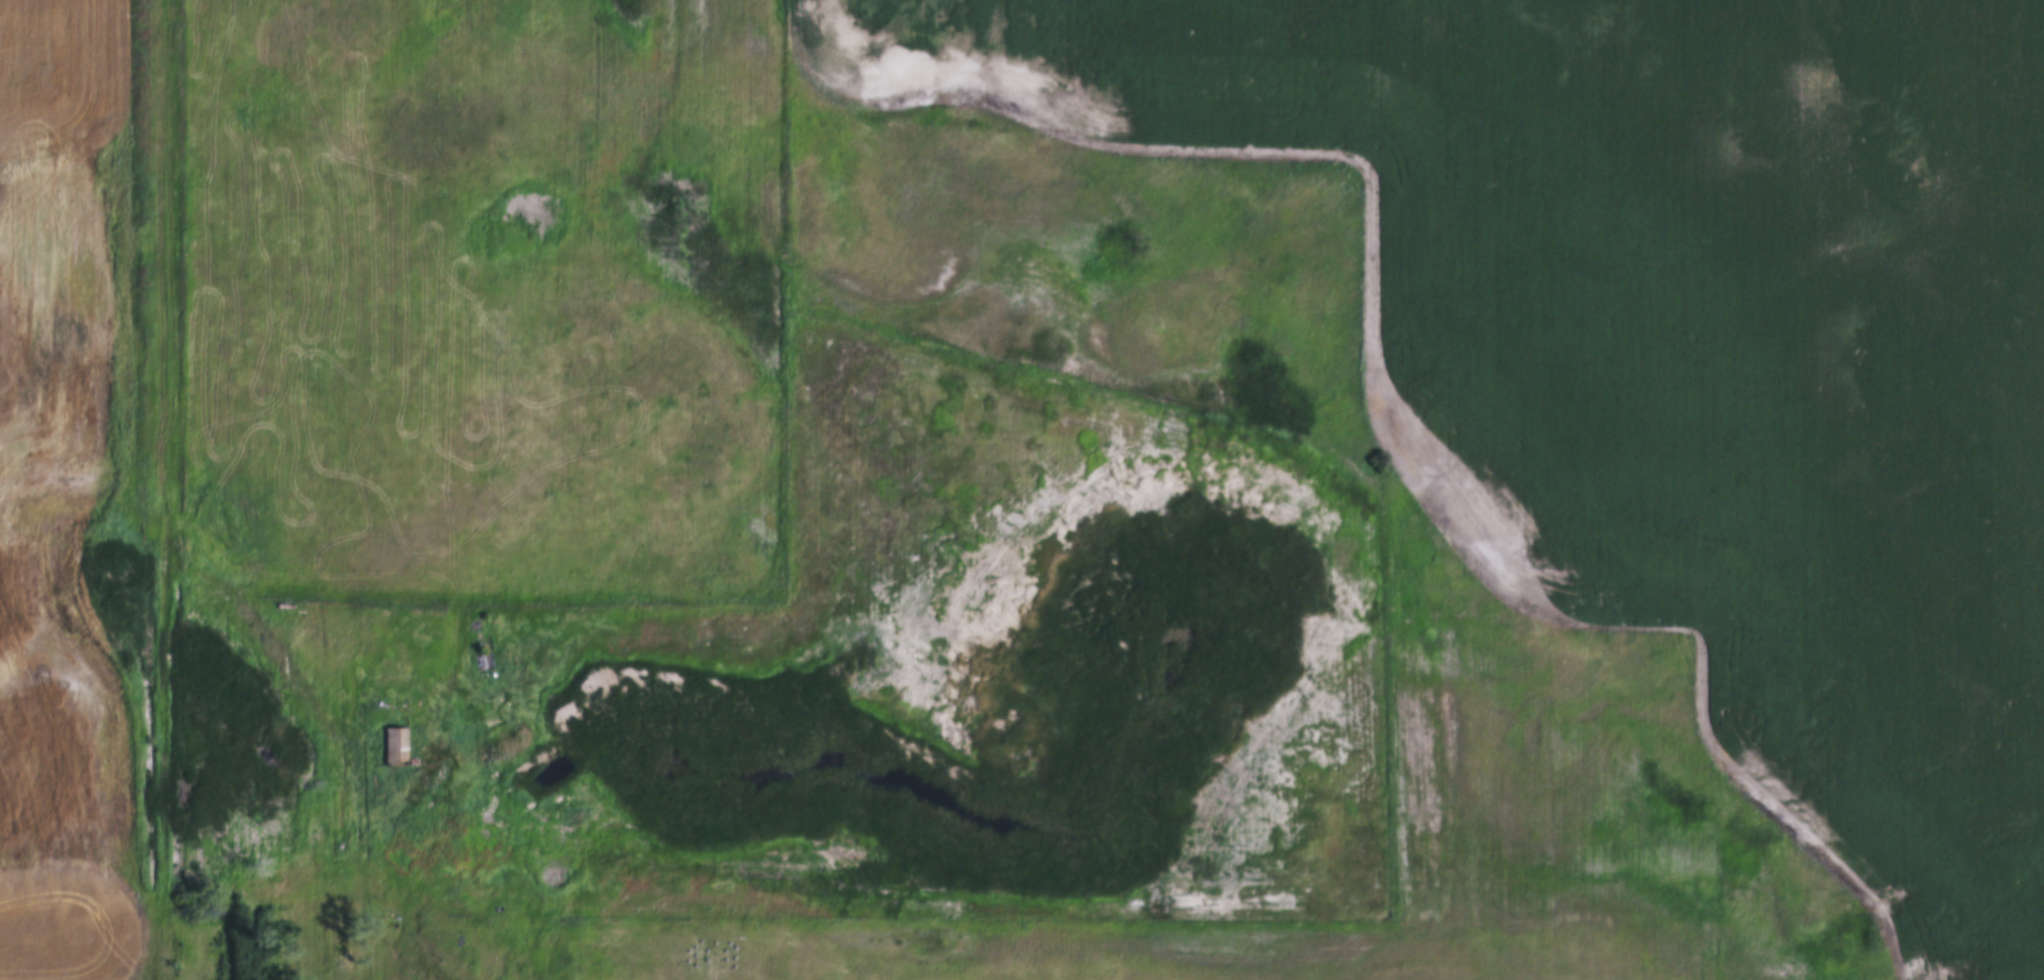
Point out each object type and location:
building: (393, 746)

